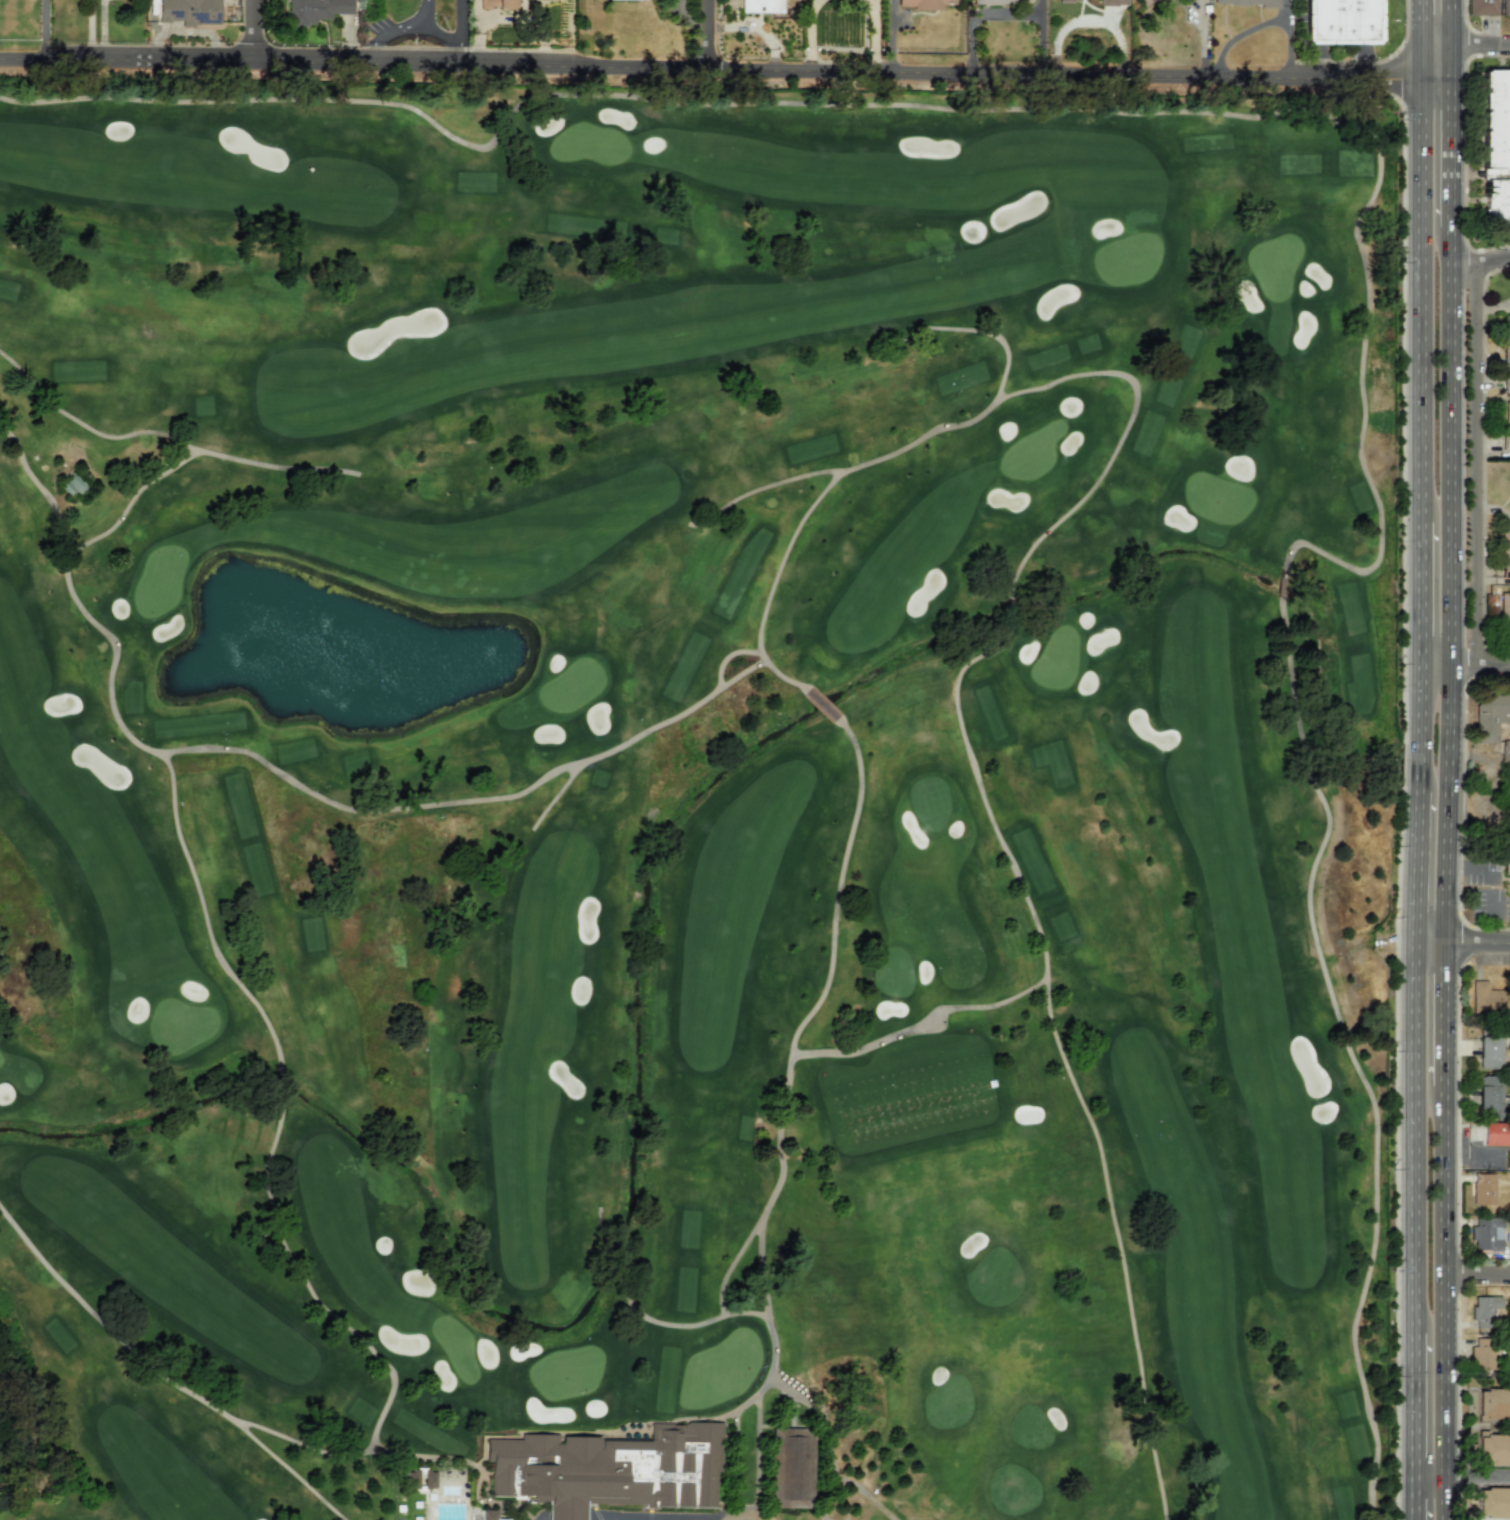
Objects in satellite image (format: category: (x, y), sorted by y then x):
building: (1070, 0)
building: (1144, 1)
building: (994, 2)
building: (1112, 2)
building: (1250, 2)
building: (495, 3)
building: (924, 3)
building: (761, 6)
building: (1481, 7)
building: (1505, 7)
building: (315, 10)
building: (189, 11)
road: (1418, 20)
road: (1453, 20)
road: (460, 21)
building: (1341, 21)
road: (1264, 23)
road: (407, 26)
road: (44, 30)
road: (252, 32)
road: (810, 34)
road: (709, 35)
road: (875, 35)
road: (1436, 40)
road: (1481, 40)
road: (1323, 51)
road: (460, 54)
road: (371, 55)
road: (1452, 58)
road: (725, 70)
road: (472, 145)
building: (1495, 145)
road: (1452, 152)
road: (1375, 187)
road: (1481, 260)
road: (1417, 279)
building: (1507, 317)
road: (989, 334)
building: (1506, 363)
road: (982, 413)
building: (1509, 428)
road: (165, 435)
road: (1453, 445)
road: (1473, 463)
road: (775, 482)
building: (72, 485)
road: (130, 501)
road: (685, 516)
building: (1505, 553)
road: (1417, 592)
road: (73, 597)
building: (1505, 611)
road: (727, 655)
road: (1435, 664)
road: (1463, 664)
road: (1492, 664)
road: (722, 684)
building: (1491, 713)
road: (1415, 728)
road: (595, 756)
road: (1450, 802)
park: (700, 803)
road: (366, 810)
building: (1507, 864)
road: (1412, 866)
road: (839, 880)
building: (1508, 889)
road: (204, 915)
road: (1429, 941)
road: (1478, 941)
building: (1490, 999)
road: (1447, 1014)
building: (1489, 1051)
road: (790, 1054)
road: (1062, 1056)
road: (1351, 1056)
building: (1489, 1096)
road: (1410, 1136)
building: (1498, 1137)
building: (1482, 1189)
building: (1485, 1235)
road: (730, 1262)
road: (1478, 1271)
road: (306, 1282)
road: (1446, 1303)
building: (1484, 1311)
road: (730, 1312)
building: (1482, 1354)
road: (161, 1376)
building: (1493, 1405)
road: (1410, 1426)
road: (827, 1436)
road: (758, 1448)
building: (1493, 1450)
road: (396, 1453)
road: (735, 1458)
building: (790, 1468)
building: (627, 1469)
road: (1460, 1475)
building: (421, 1479)
road: (862, 1490)
building: (1493, 1503)
parking lot: (651, 1514)
building: (493, 1515)

